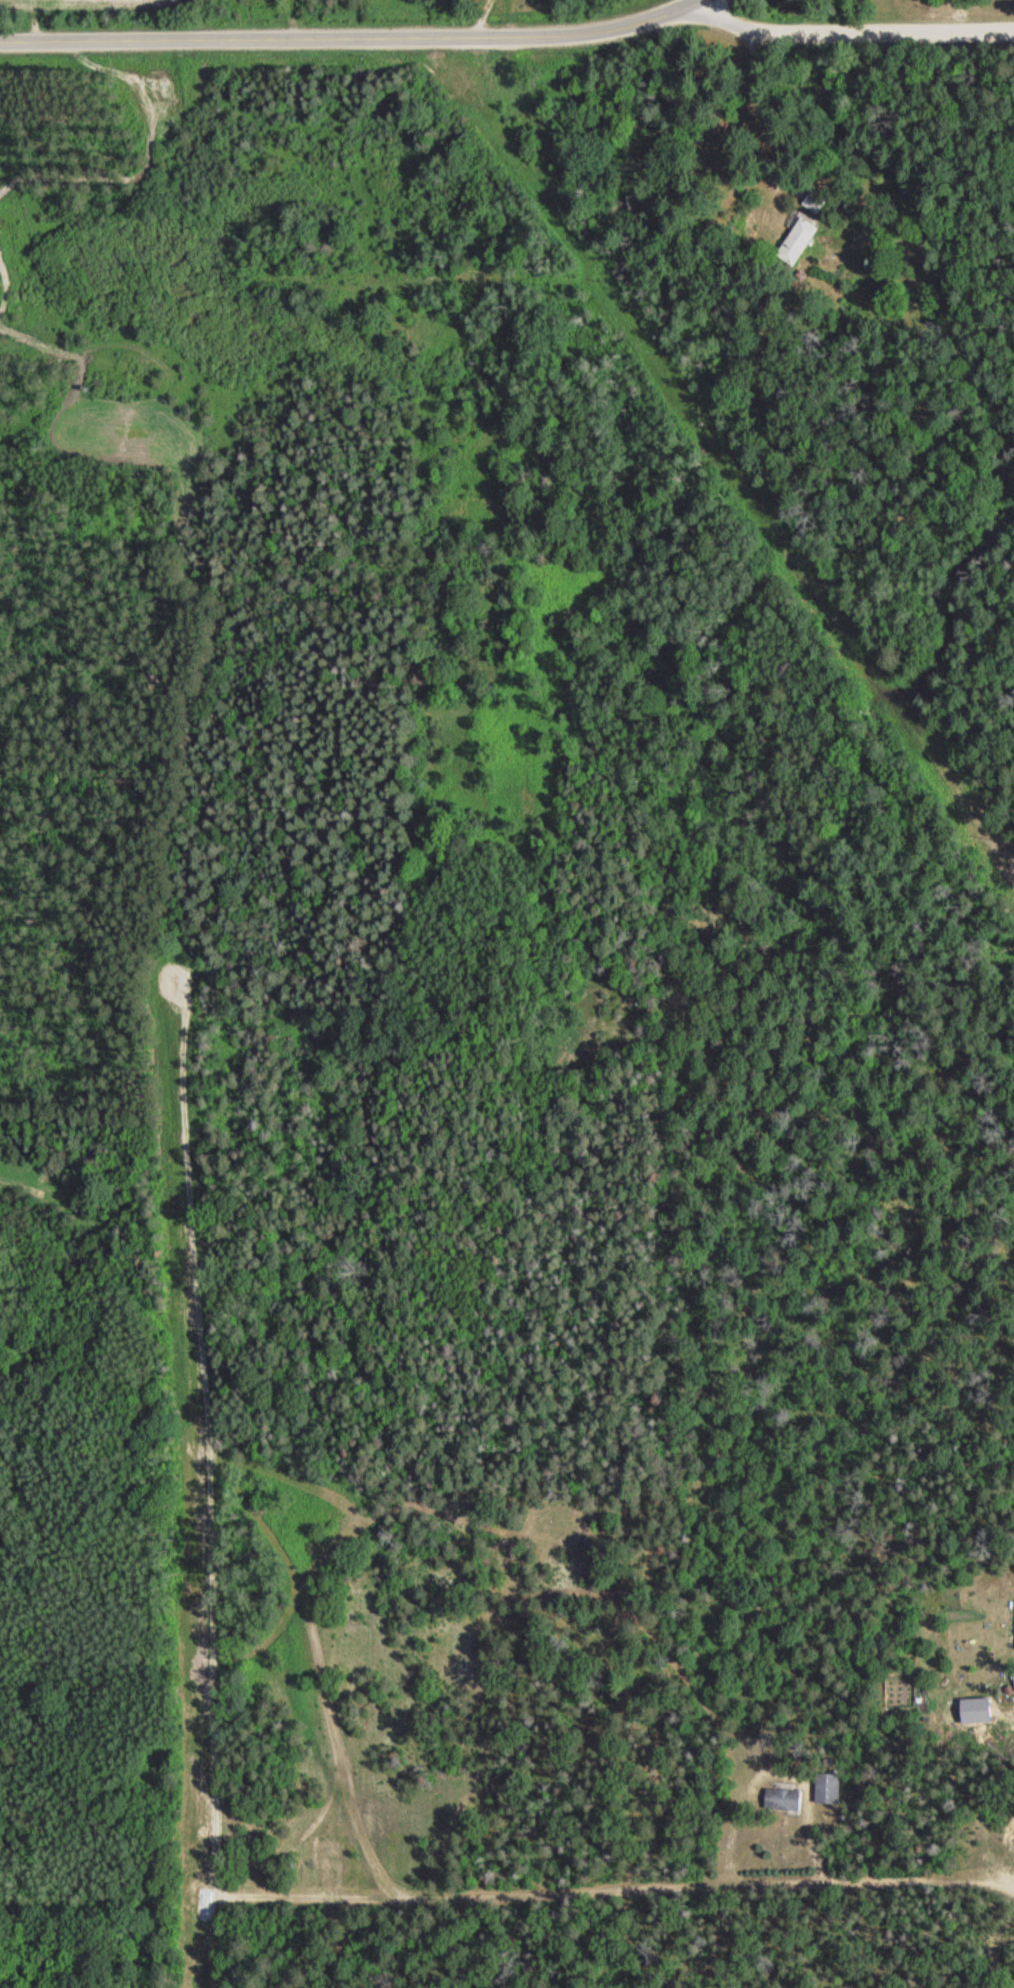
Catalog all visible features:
road: (694, 1)
road: (483, 17)
road: (849, 32)
road: (349, 39)
building: (811, 200)
building: (795, 236)
road: (275, 1551)
building: (827, 1787)
building: (782, 1799)
road: (608, 1905)

